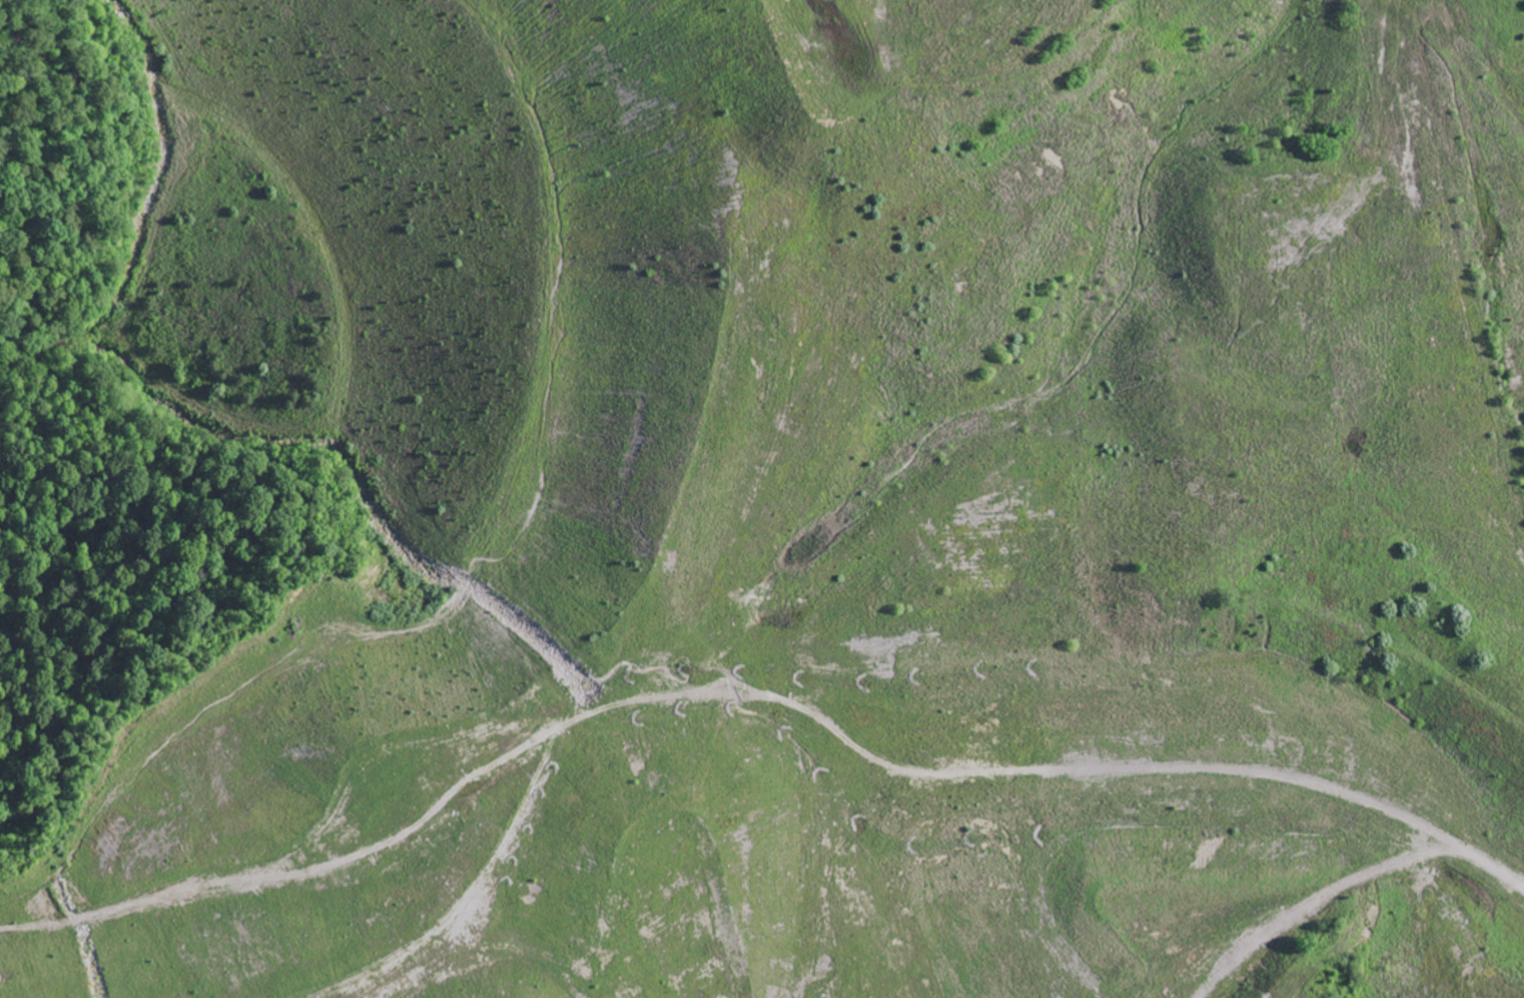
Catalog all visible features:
quarry: (321, 4)
road: (1438, 336)

